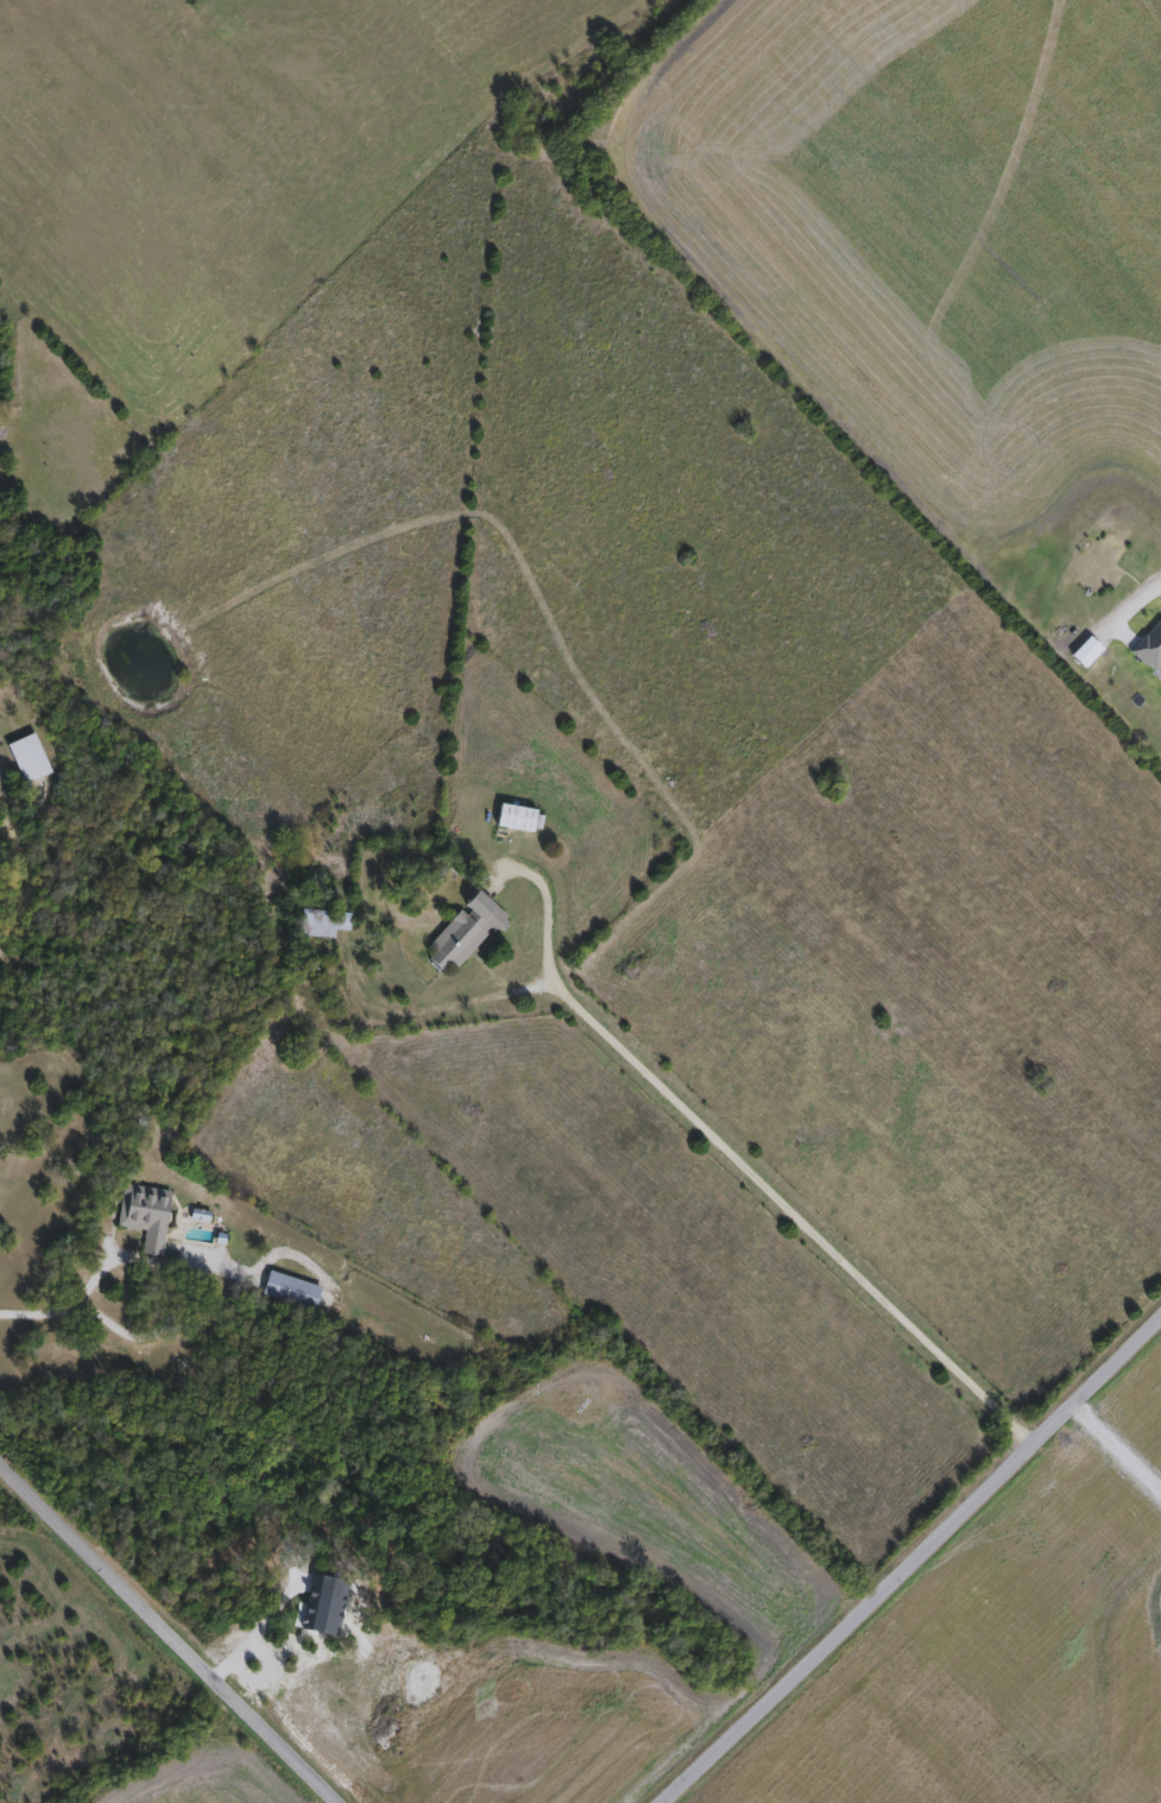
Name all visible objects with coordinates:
road: (1134, 601)
building: (32, 759)
building: (519, 819)
road: (544, 909)
building: (326, 923)
building: (468, 932)
road: (446, 1007)
building: (149, 1217)
road: (790, 1217)
road: (188, 1284)
building: (294, 1292)
road: (40, 1312)
road: (910, 1559)
road: (164, 1637)

